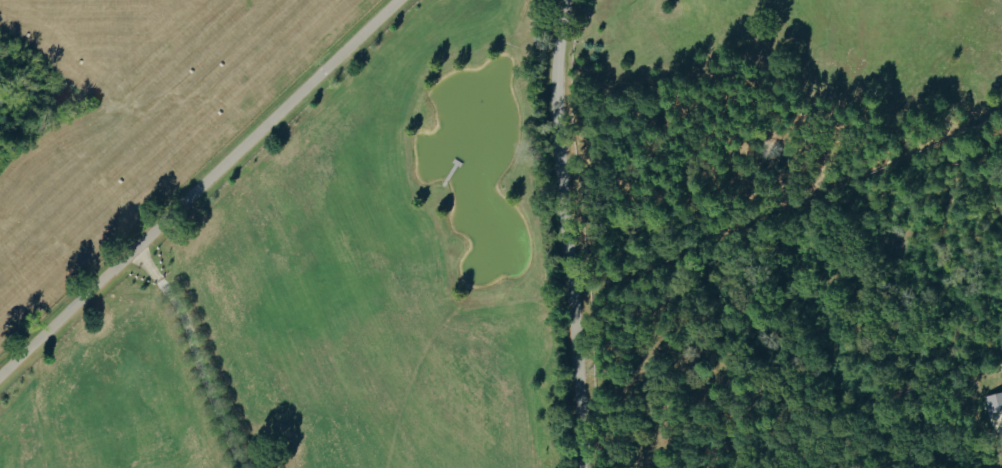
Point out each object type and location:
road: (197, 187)
road: (561, 233)
road: (196, 353)
building: (993, 401)

